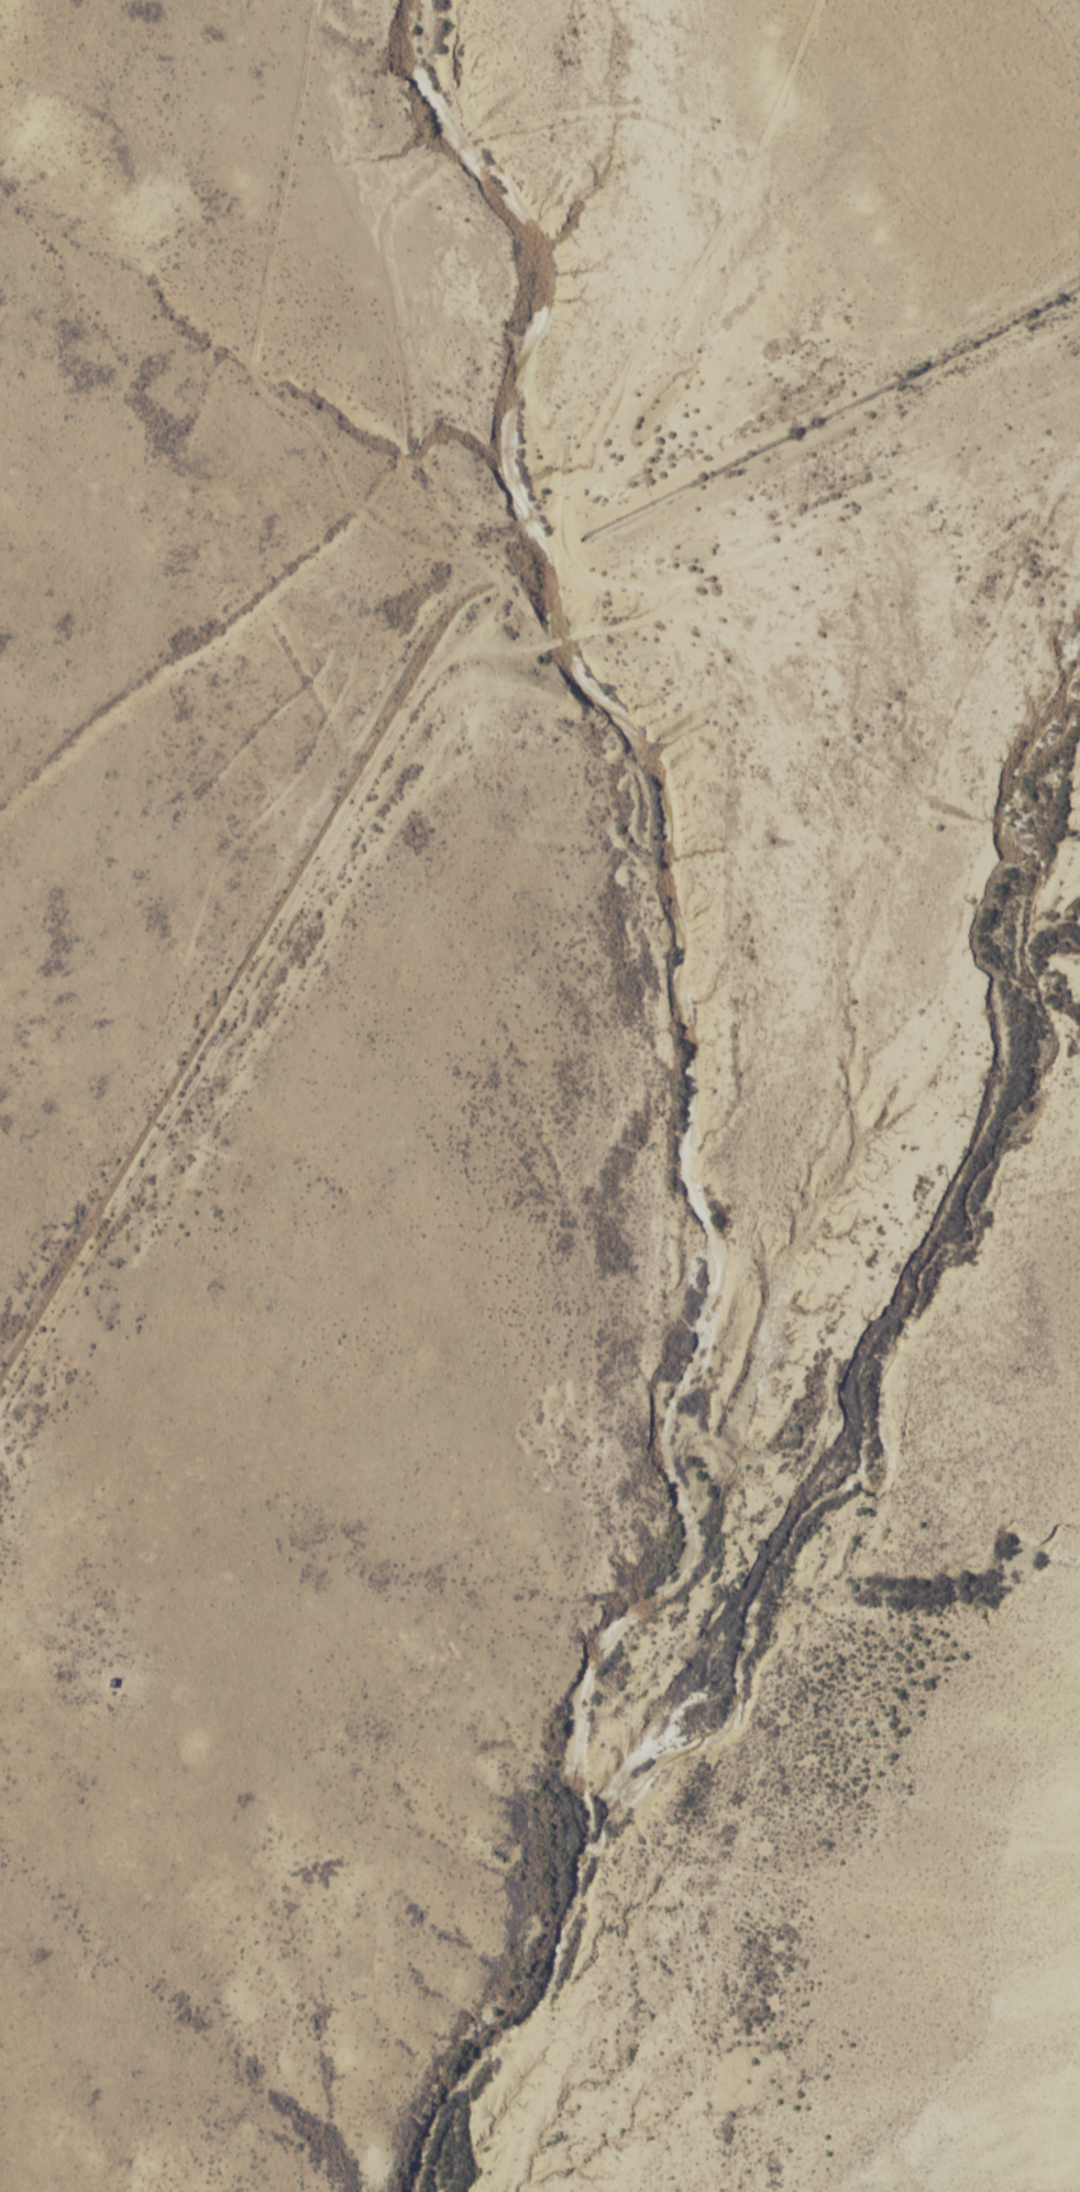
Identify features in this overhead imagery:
road: (870, 272)
road: (674, 335)
road: (594, 497)
road: (414, 847)
river: (503, 2014)

